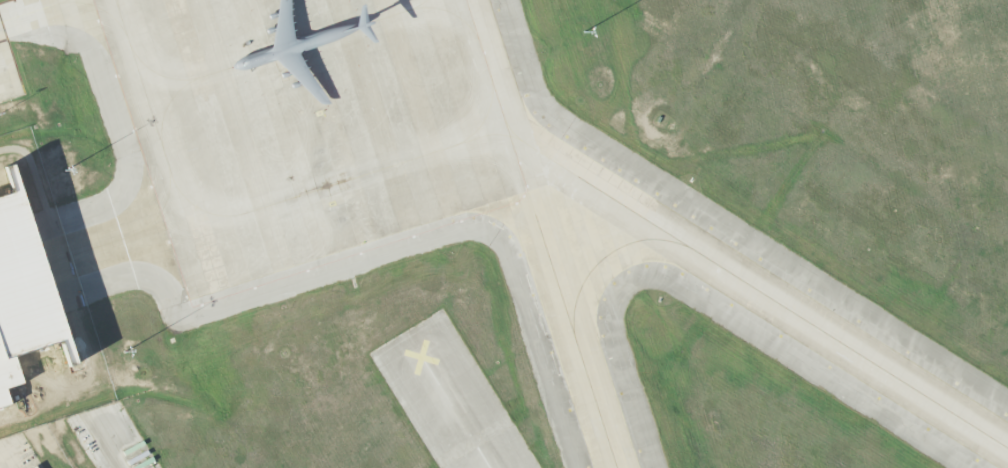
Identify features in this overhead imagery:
airport apron: (29, 35)
airport apron: (300, 135)
airport: (504, 234)
airport apron: (89, 247)
airport taxiway: (603, 256)
airport taxiway: (757, 290)
building: (24, 293)
airport taxiway: (574, 343)
building: (35, 467)

